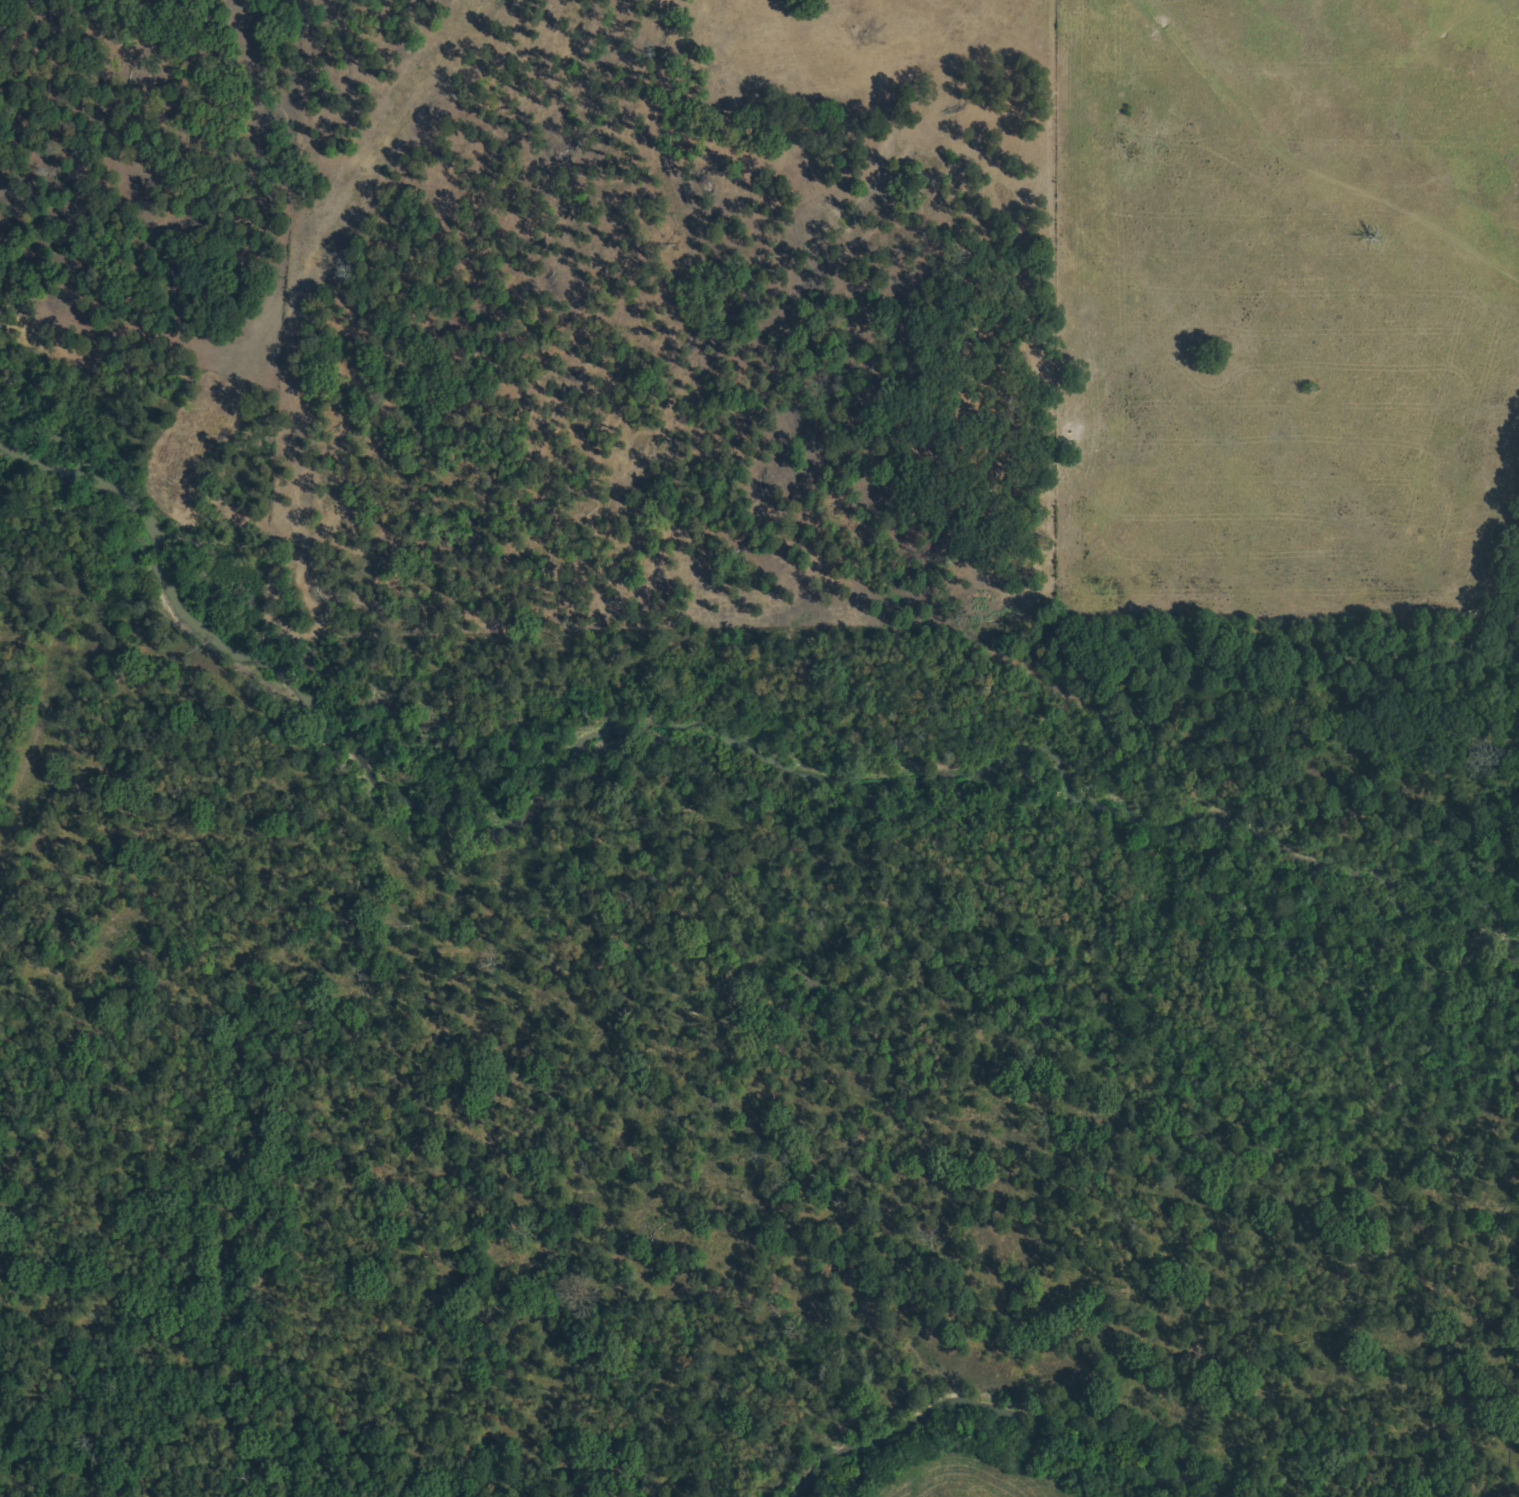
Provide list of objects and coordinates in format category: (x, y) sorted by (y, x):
river: (1005, 1413)

